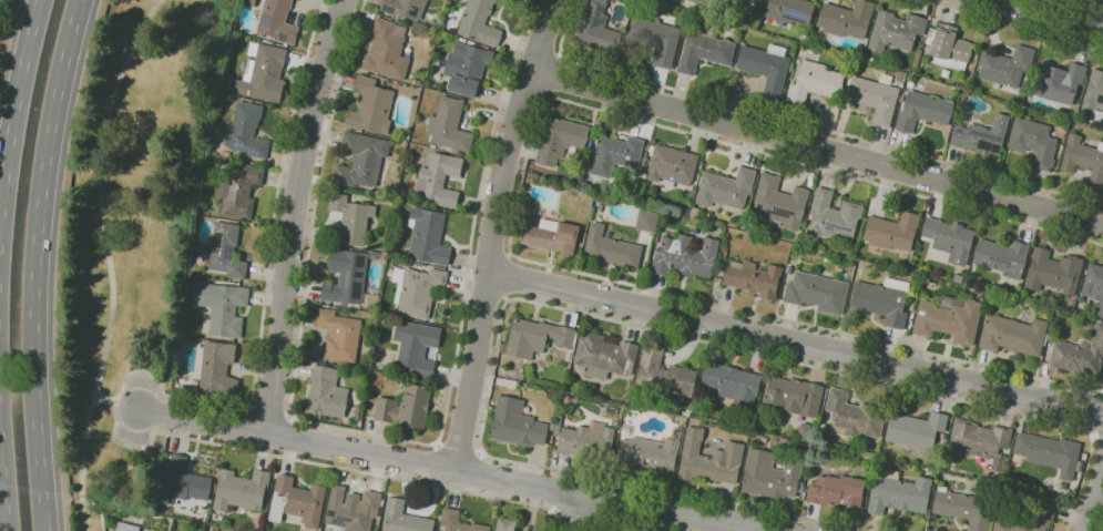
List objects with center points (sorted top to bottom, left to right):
building: (753, 0)
building: (698, 1)
road: (1084, 4)
building: (405, 8)
building: (791, 10)
rooftop solar panel: (799, 13)
road: (1053, 14)
rooftop solar panel: (270, 18)
building: (847, 19)
building: (277, 21)
building: (479, 22)
road: (1013, 25)
building: (598, 28)
building: (897, 30)
rooftop solar panel: (280, 35)
building: (656, 39)
building: (949, 45)
building: (704, 49)
building: (386, 51)
building: (1005, 65)
building: (767, 67)
building: (467, 68)
building: (263, 73)
road: (556, 75)
building: (900, 75)
building: (887, 78)
building: (815, 81)
building: (1060, 81)
building: (1094, 90)
rooftop solar panel: (1063, 96)
building: (874, 99)
road: (14, 105)
building: (372, 106)
building: (923, 110)
road: (803, 123)
building: (450, 125)
building: (247, 130)
building: (983, 135)
building: (560, 140)
building: (1034, 141)
rooftop solar panel: (983, 144)
road: (817, 145)
rooftop solar panel: (993, 147)
rooftop solar panel: (239, 149)
rooftop solar panel: (251, 154)
building: (615, 154)
building: (1083, 157)
building: (361, 159)
building: (671, 165)
building: (439, 178)
building: (239, 188)
building: (726, 188)
road: (520, 190)
building: (782, 202)
rooftop solar panel: (779, 213)
road: (297, 215)
building: (834, 217)
building: (351, 218)
building: (647, 221)
rooftop solar panel: (828, 226)
rooftop solar panel: (838, 227)
road: (493, 231)
building: (892, 231)
building: (428, 235)
building: (552, 235)
rooftop solar panel: (221, 237)
park: (127, 238)
building: (950, 238)
rooftop solar panel: (227, 248)
building: (610, 248)
building: (225, 251)
building: (374, 254)
building: (685, 256)
building: (1003, 256)
rooftop solar panel: (228, 257)
road: (109, 259)
rooftop solar panel: (998, 259)
road: (34, 263)
rooftop solar panel: (335, 264)
rooftop solar panel: (219, 267)
building: (789, 268)
building: (1054, 270)
rooftop solar panel: (1009, 274)
road: (508, 276)
building: (754, 277)
building: (348, 278)
rooftop solar panel: (345, 279)
building: (1094, 285)
rooftop solar panel: (1099, 290)
building: (420, 292)
building: (818, 292)
rooftop solar panel: (327, 296)
building: (884, 299)
building: (222, 306)
road: (579, 313)
building: (949, 318)
building: (1013, 334)
building: (339, 335)
building: (535, 337)
road: (795, 340)
building: (417, 347)
building: (1080, 354)
building: (605, 356)
building: (217, 369)
road: (129, 371)
building: (664, 372)
building: (733, 384)
building: (326, 392)
building: (794, 396)
road: (118, 404)
building: (406, 407)
road: (269, 410)
building: (359, 413)
building: (854, 416)
building: (517, 423)
building: (916, 428)
building: (805, 430)
road: (1096, 432)
road: (379, 436)
building: (586, 440)
building: (979, 441)
road: (459, 447)
building: (651, 452)
building: (1049, 452)
building: (709, 458)
road: (453, 469)
building: (774, 472)
building: (184, 482)
building: (241, 490)
building: (837, 490)
building: (899, 494)
road: (2, 498)
building: (297, 501)
road: (1094, 502)
building: (962, 508)
building: (353, 510)
road: (573, 512)
building: (1042, 512)
rooftop solar panel: (328, 513)
road: (573, 515)
building: (405, 518)
rooftop solar panel: (338, 519)
building: (459, 521)
road: (621, 523)
building: (505, 524)
building: (127, 527)
road: (1102, 528)

